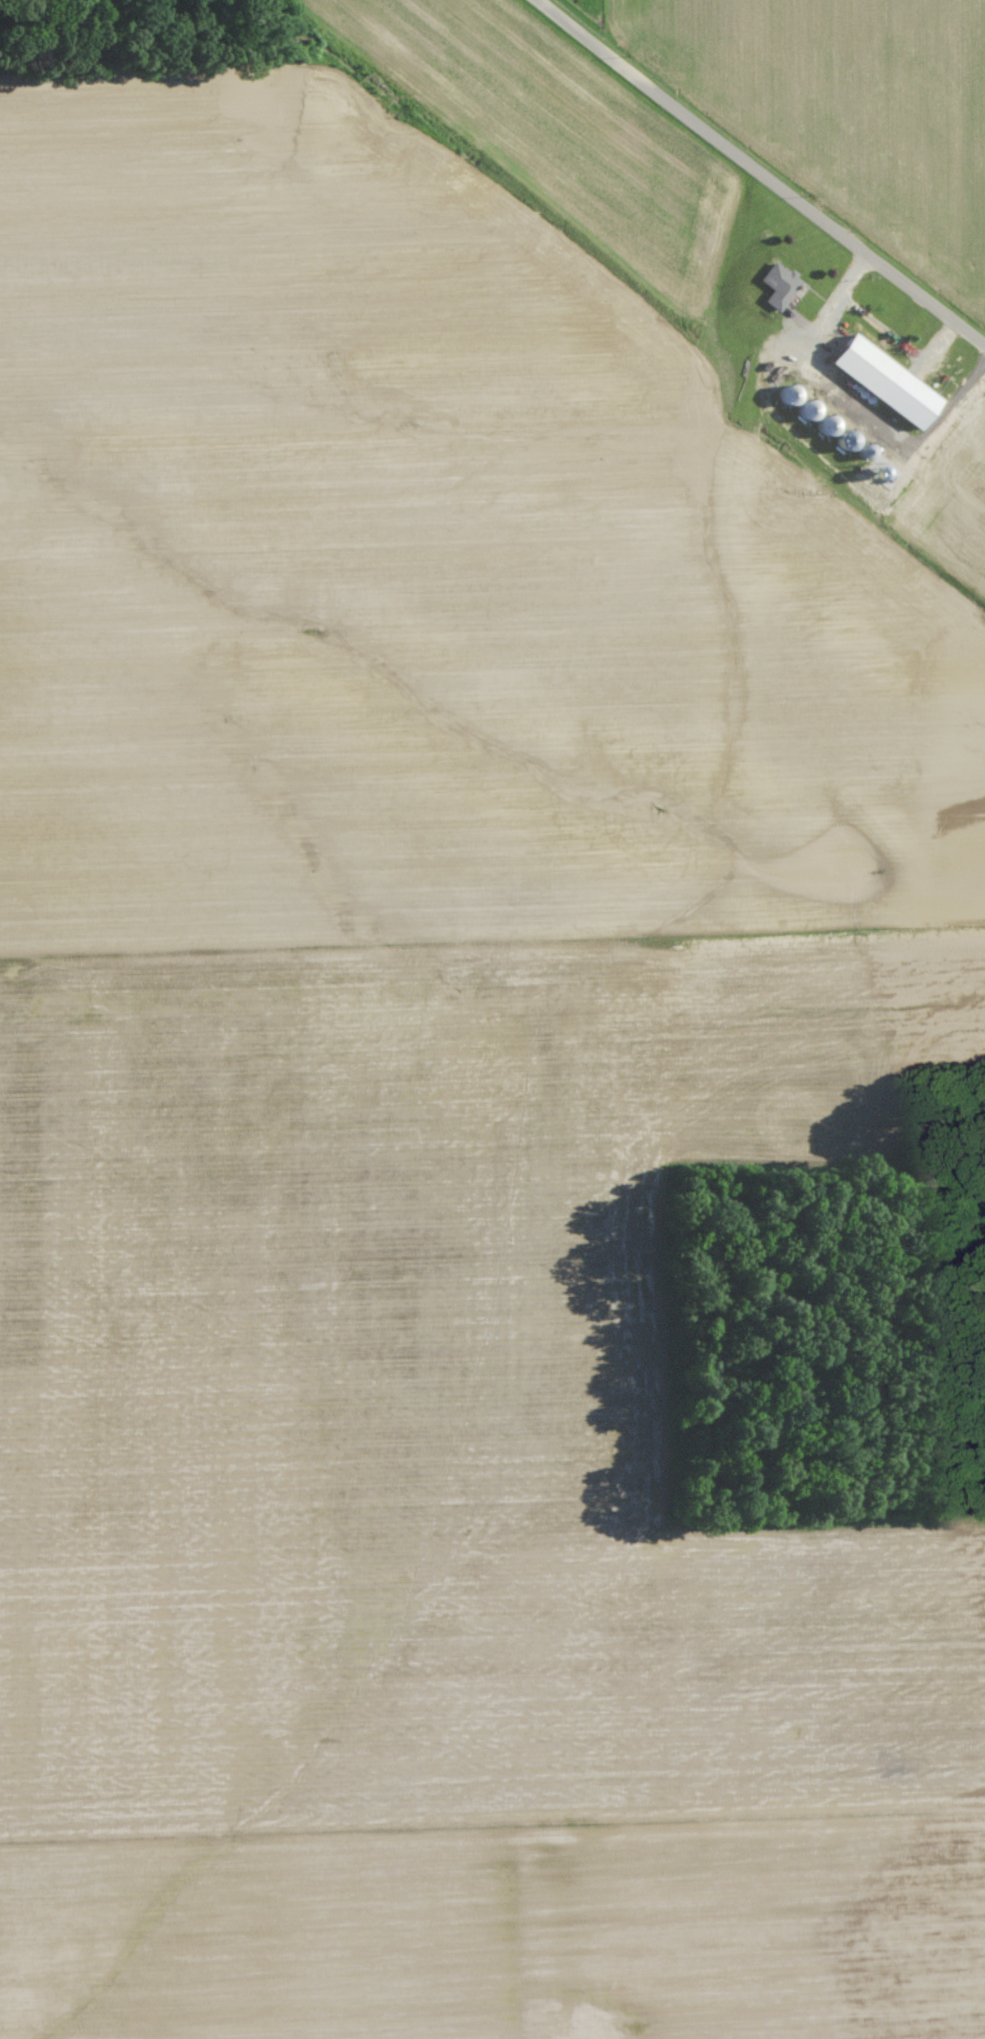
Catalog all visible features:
road: (763, 176)
building: (773, 285)
building: (875, 380)

